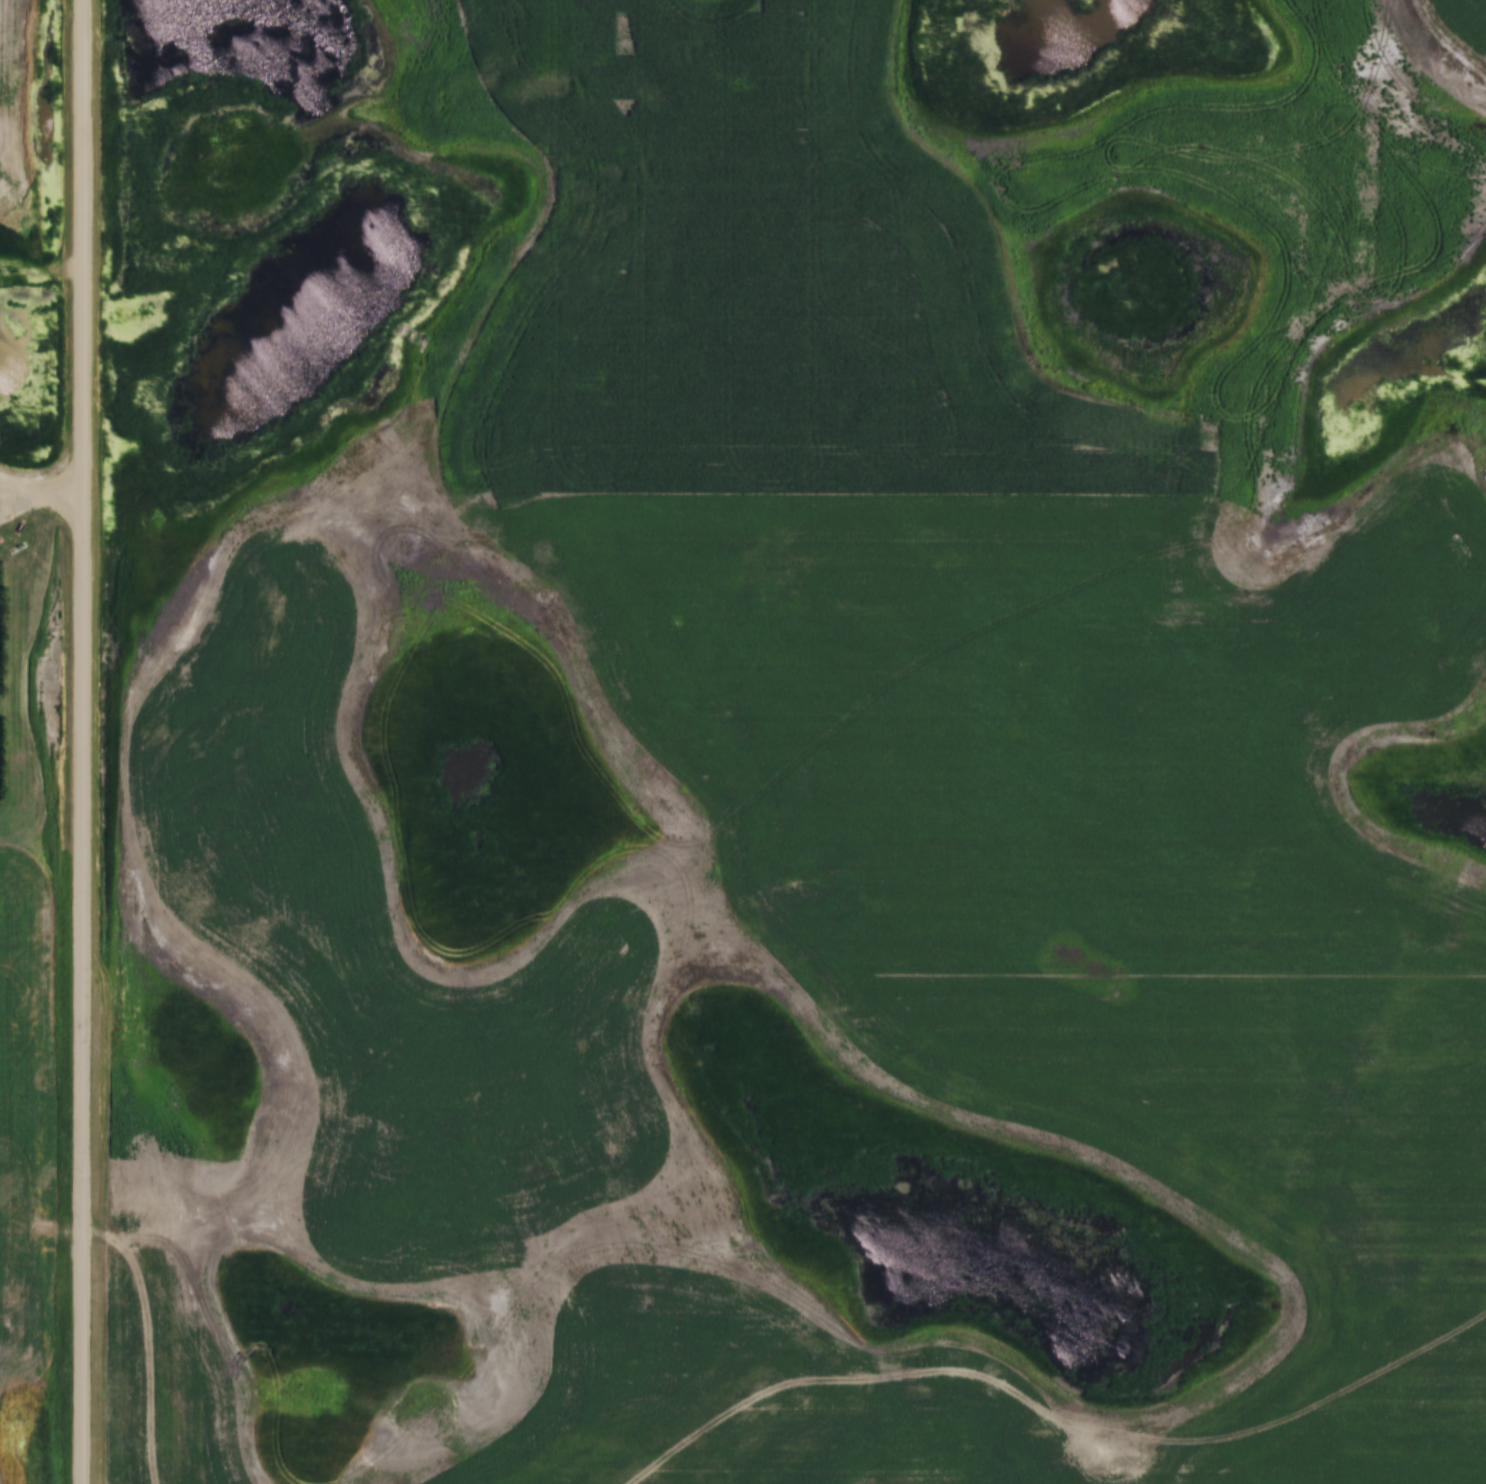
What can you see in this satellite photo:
road: (80, 742)

